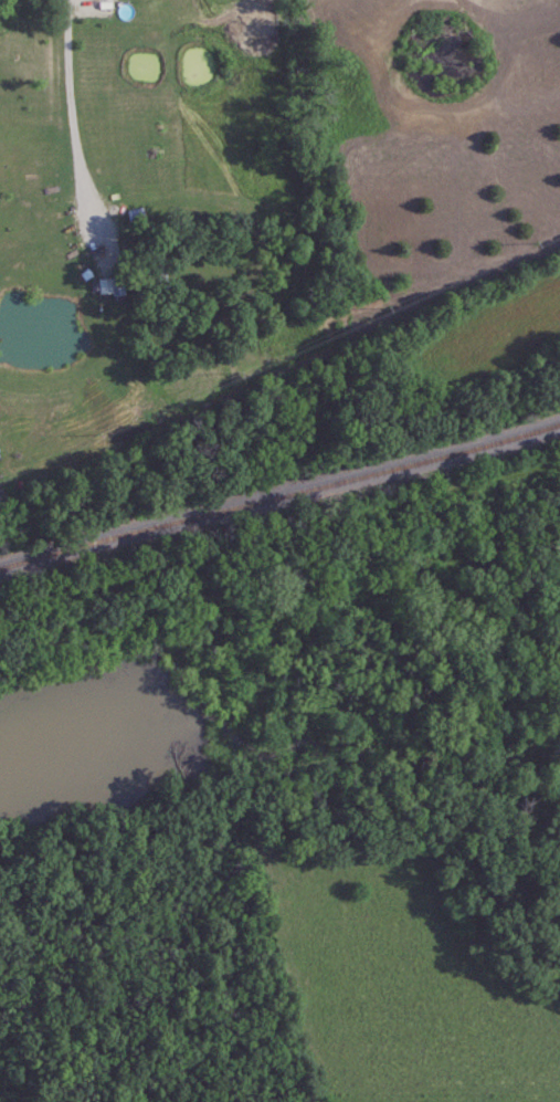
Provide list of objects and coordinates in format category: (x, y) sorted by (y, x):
road: (73, 116)
building: (160, 272)
building: (106, 285)
railway: (279, 496)

